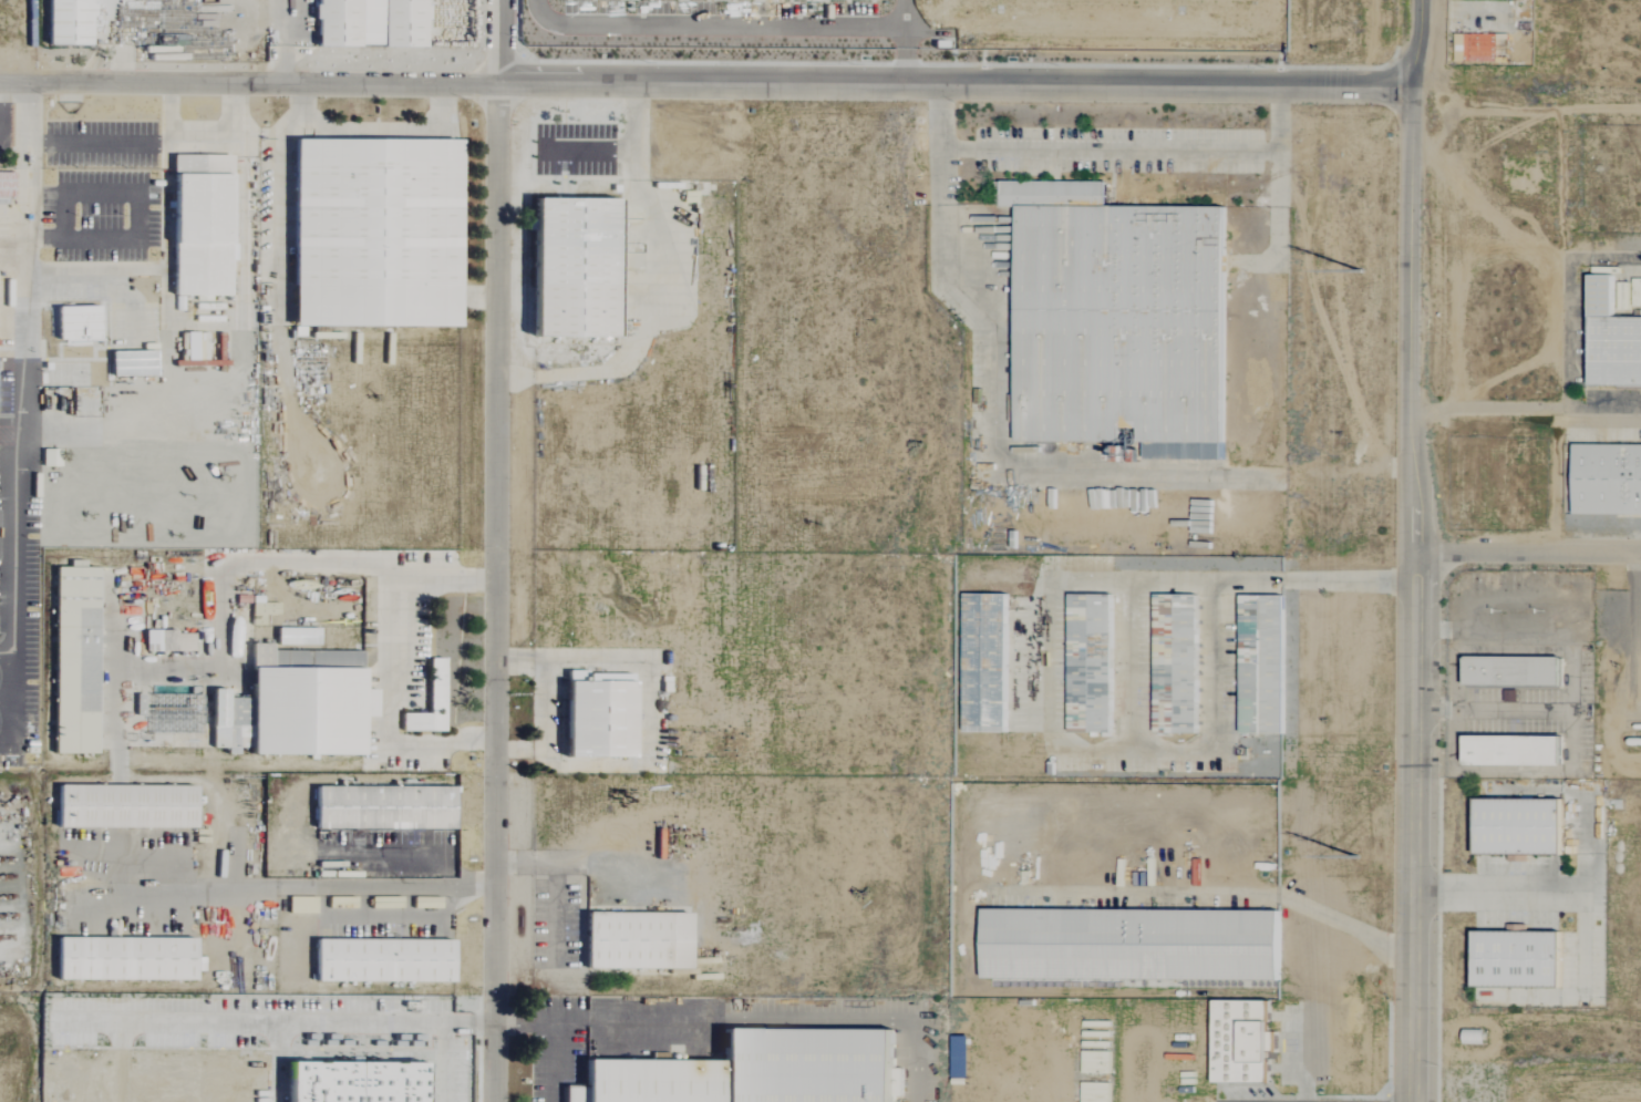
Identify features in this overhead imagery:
building: (65, 22)
building: (368, 23)
road: (712, 27)
road: (904, 40)
road: (287, 43)
road: (1417, 44)
road: (706, 82)
road: (1527, 92)
road: (2, 114)
road: (636, 116)
road: (25, 130)
road: (124, 144)
road: (229, 144)
road: (586, 150)
road: (1108, 150)
road: (137, 192)
building: (199, 226)
building: (373, 234)
road: (44, 239)
building: (570, 268)
power tower: (1373, 277)
road: (652, 319)
building: (1117, 321)
building: (1611, 339)
building: (130, 363)
road: (1559, 408)
road: (14, 462)
building: (1606, 478)
road: (497, 550)
road: (1527, 553)
road: (223, 577)
road: (1234, 580)
road: (1413, 595)
building: (295, 636)
road: (7, 652)
building: (72, 658)
road: (389, 660)
building: (984, 661)
building: (1090, 663)
building: (1176, 663)
building: (1261, 665)
road: (7, 699)
building: (303, 701)
building: (426, 702)
building: (597, 719)
building: (1510, 750)
building: (125, 805)
building: (382, 806)
building: (1516, 826)
road: (391, 855)
power tower: (1370, 862)
road: (555, 882)
road: (1498, 889)
road: (1241, 893)
road: (411, 915)
building: (636, 939)
building: (1129, 944)
building: (125, 959)
building: (1514, 959)
building: (382, 960)
road: (259, 1019)
road: (773, 1019)
road: (551, 1033)
road: (443, 1037)
building: (958, 1057)
building: (754, 1070)
building: (349, 1082)

